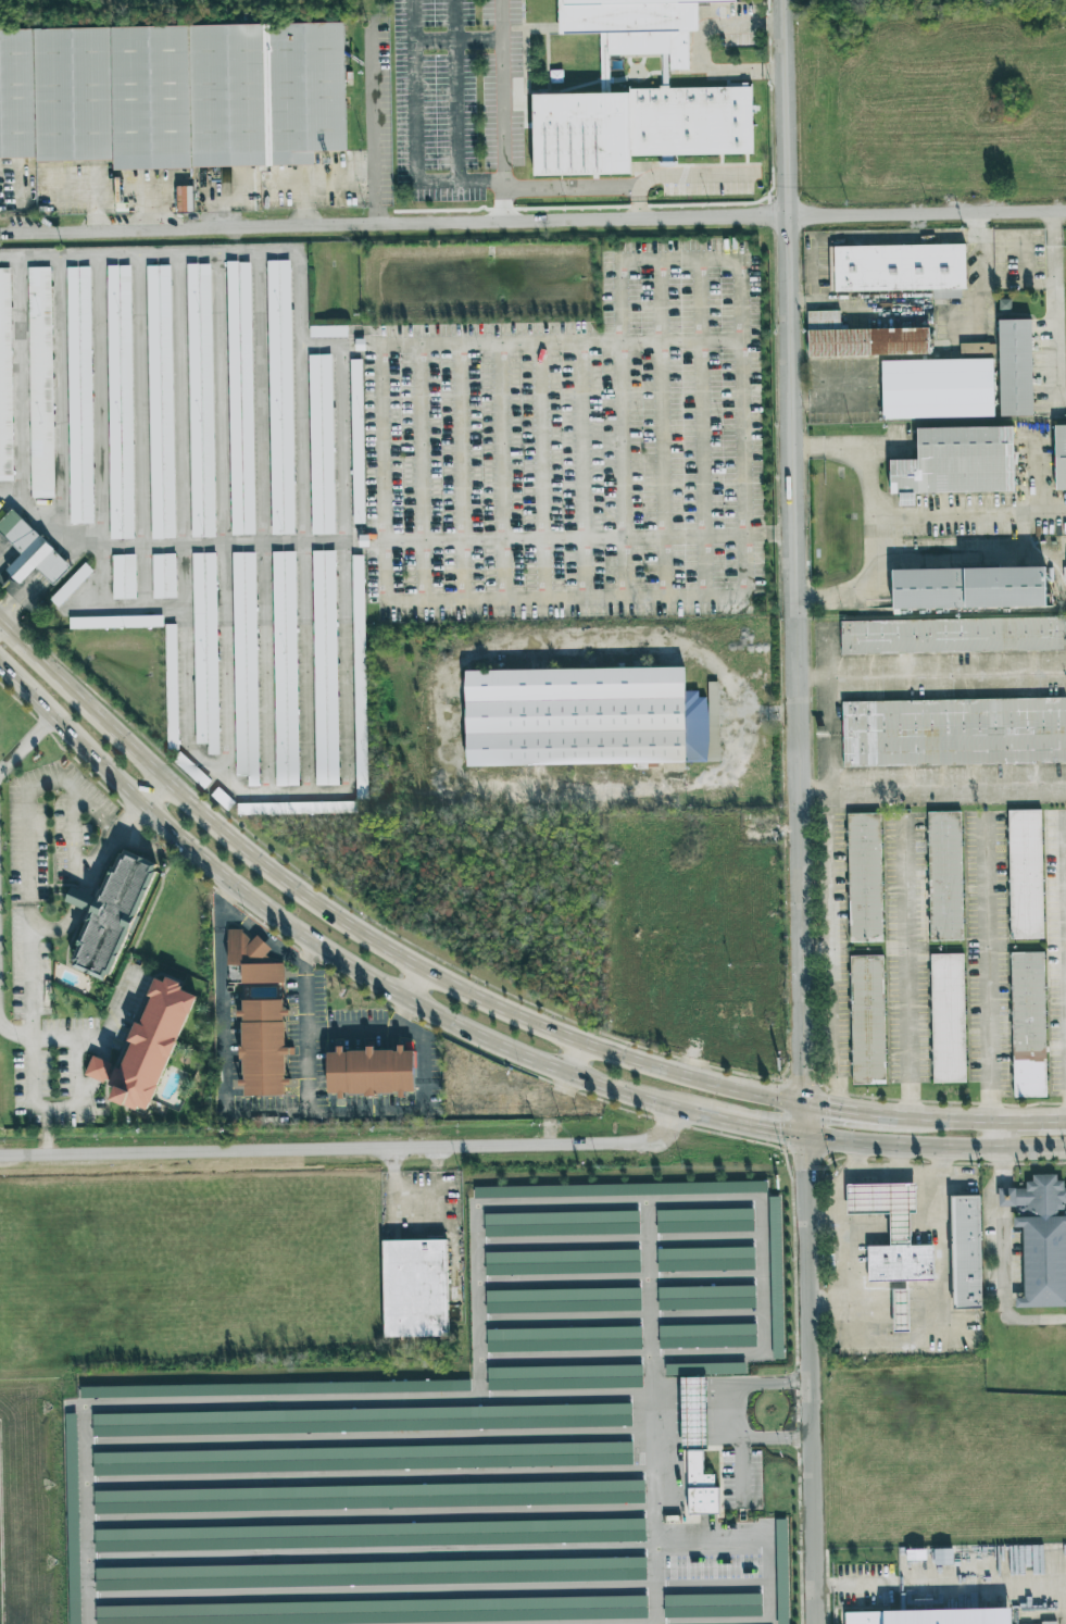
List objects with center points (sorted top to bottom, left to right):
road: (455, 18)
building: (638, 24)
road: (504, 35)
road: (459, 90)
building: (172, 92)
parking lot: (459, 101)
building: (638, 126)
road: (382, 127)
road: (417, 161)
road: (680, 175)
building: (51, 177)
road: (303, 200)
road: (23, 205)
road: (534, 221)
building: (898, 267)
road: (981, 284)
road: (1052, 305)
building: (328, 330)
building: (861, 338)
road: (337, 348)
building: (977, 348)
road: (740, 358)
building: (1014, 366)
road: (297, 375)
building: (5, 379)
building: (40, 383)
building: (936, 388)
building: (79, 395)
building: (280, 397)
building: (240, 398)
road: (700, 398)
building: (201, 400)
building: (120, 402)
building: (161, 402)
building: (358, 441)
building: (322, 444)
road: (339, 446)
road: (421, 447)
road: (381, 448)
building: (1059, 455)
building: (955, 462)
parking lot: (376, 463)
road: (620, 470)
road: (33, 509)
road: (969, 517)
road: (871, 519)
road: (64, 533)
road: (765, 537)
road: (20, 540)
road: (322, 542)
road: (790, 551)
road: (5, 555)
building: (30, 558)
road: (702, 566)
road: (50, 570)
building: (164, 575)
building: (124, 576)
building: (71, 585)
building: (967, 587)
road: (567, 598)
road: (21, 603)
building: (116, 622)
road: (0, 629)
building: (953, 640)
road: (667, 649)
building: (205, 651)
building: (246, 666)
road: (303, 667)
building: (325, 667)
building: (286, 669)
building: (360, 676)
road: (929, 676)
building: (172, 687)
building: (577, 716)
building: (954, 736)
road: (26, 744)
building: (191, 770)
road: (547, 785)
road: (929, 787)
road: (301, 792)
road: (152, 795)
building: (296, 808)
road: (73, 837)
building: (1024, 874)
building: (944, 875)
building: (863, 877)
road: (28, 891)
building: (112, 912)
road: (261, 927)
road: (360, 934)
road: (830, 947)
parking lot: (944, 952)
road: (329, 958)
road: (912, 969)
road: (994, 976)
road: (414, 986)
road: (221, 997)
road: (117, 1002)
road: (28, 1012)
building: (259, 1014)
road: (402, 1016)
building: (866, 1019)
building: (946, 1019)
building: (1027, 1024)
road: (304, 1026)
road: (48, 1038)
building: (151, 1044)
road: (575, 1059)
building: (371, 1072)
road: (92, 1073)
road: (75, 1096)
traffic signals: (800, 1102)
building: (528, 1103)
road: (831, 1105)
road: (422, 1112)
road: (887, 1113)
road: (800, 1117)
road: (988, 1117)
road: (767, 1127)
road: (45, 1132)
road: (1031, 1133)
traffic signals: (800, 1134)
road: (996, 1141)
road: (932, 1147)
road: (350, 1149)
road: (899, 1158)
road: (896, 1170)
road: (437, 1183)
building: (619, 1189)
road: (475, 1211)
road: (823, 1214)
road: (423, 1217)
building: (704, 1220)
building: (561, 1223)
road: (900, 1231)
road: (927, 1231)
building: (891, 1232)
road: (866, 1233)
building: (1040, 1239)
building: (965, 1251)
building: (705, 1259)
building: (562, 1261)
road: (1001, 1261)
road: (764, 1275)
building: (776, 1276)
building: (417, 1287)
road: (651, 1296)
building: (706, 1297)
road: (827, 1297)
building: (563, 1300)
building: (900, 1311)
building: (707, 1336)
building: (564, 1338)
road: (888, 1339)
building: (564, 1376)
road: (807, 1378)
road: (766, 1382)
building: (275, 1388)
road: (666, 1394)
road: (693, 1394)
road: (718, 1394)
road: (473, 1396)
road: (726, 1417)
building: (362, 1420)
road: (690, 1421)
building: (698, 1432)
road: (775, 1437)
parking lot: (469, 1444)
building: (362, 1458)
road: (740, 1470)
building: (368, 1497)
building: (73, 1519)
building: (369, 1535)
building: (781, 1571)
building: (371, 1574)
road: (654, 1579)
road: (944, 1582)
building: (713, 1606)
building: (389, 1611)
building: (931, 1616)

